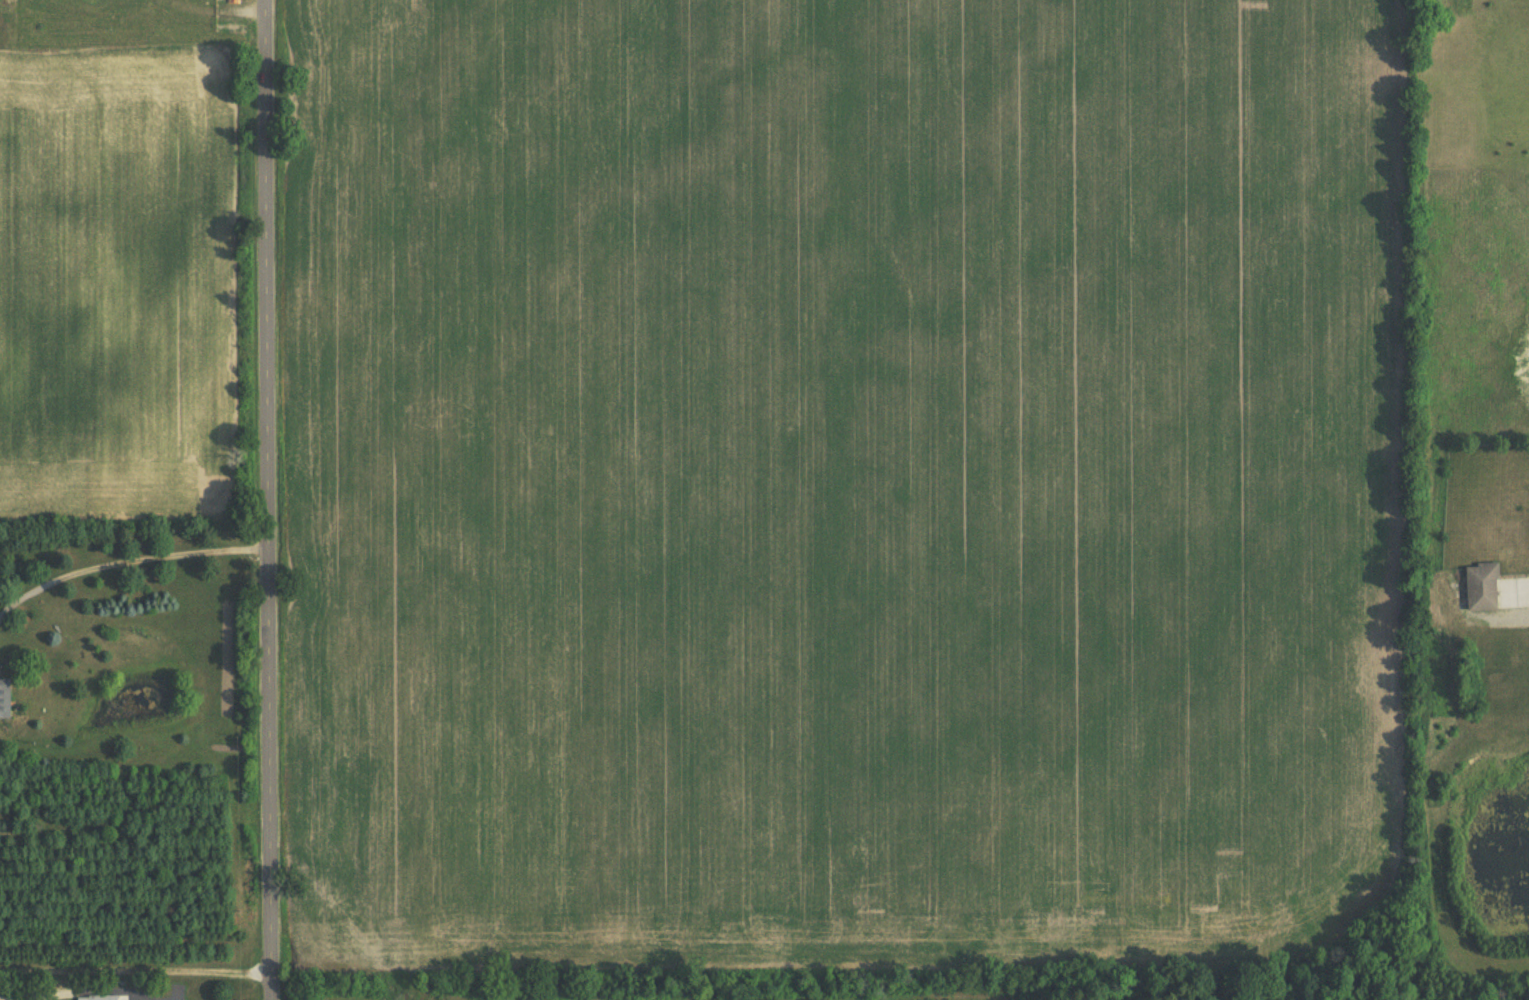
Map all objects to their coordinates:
road: (271, 500)
road: (127, 557)
building: (1479, 586)
building: (7, 697)
building: (106, 997)

